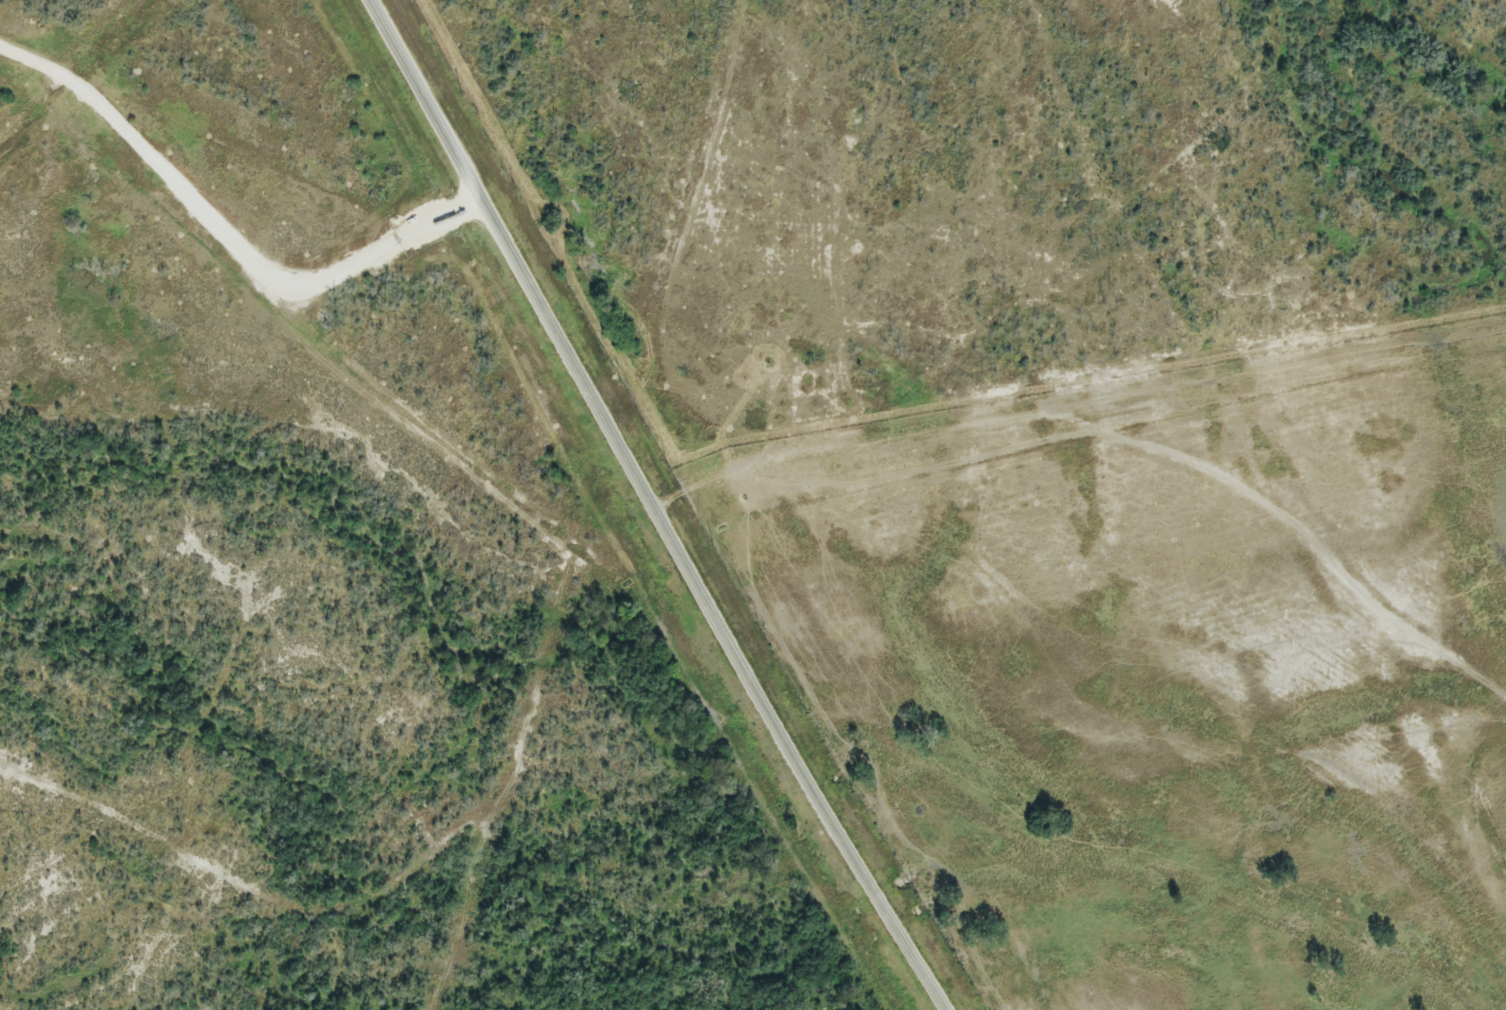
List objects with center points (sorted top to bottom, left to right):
road: (227, 238)
road: (927, 450)
road: (652, 508)

